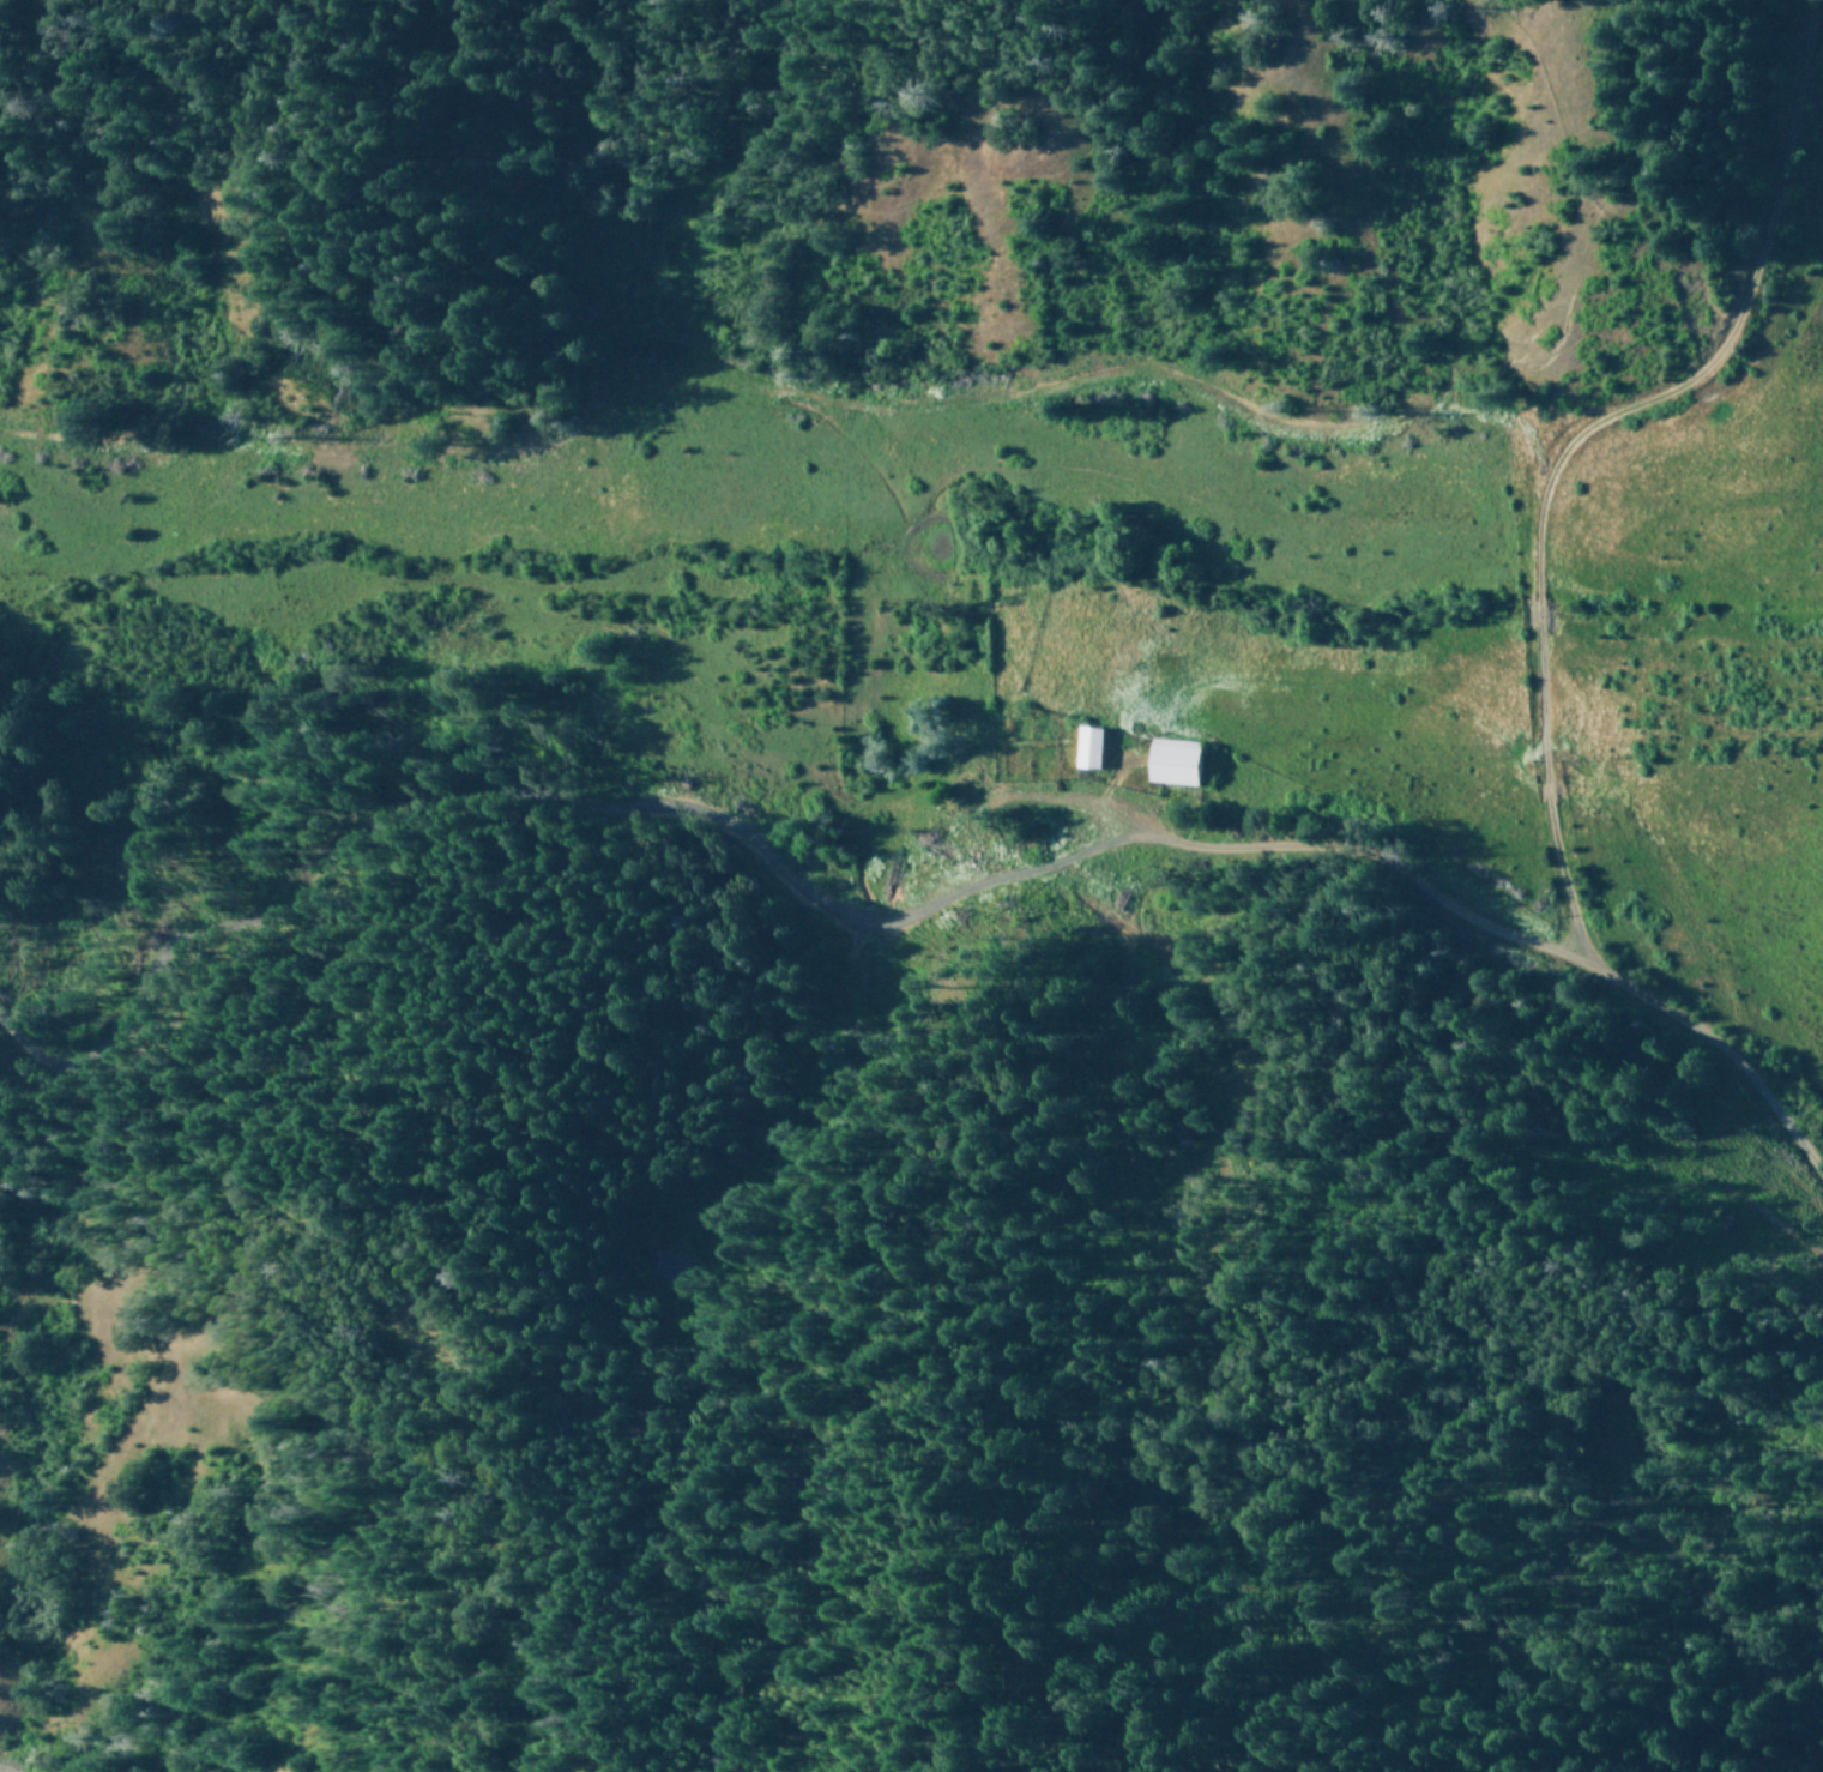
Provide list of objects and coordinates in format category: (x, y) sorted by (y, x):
road: (1521, 611)
building: (1086, 747)
building: (1170, 760)
road: (903, 897)

